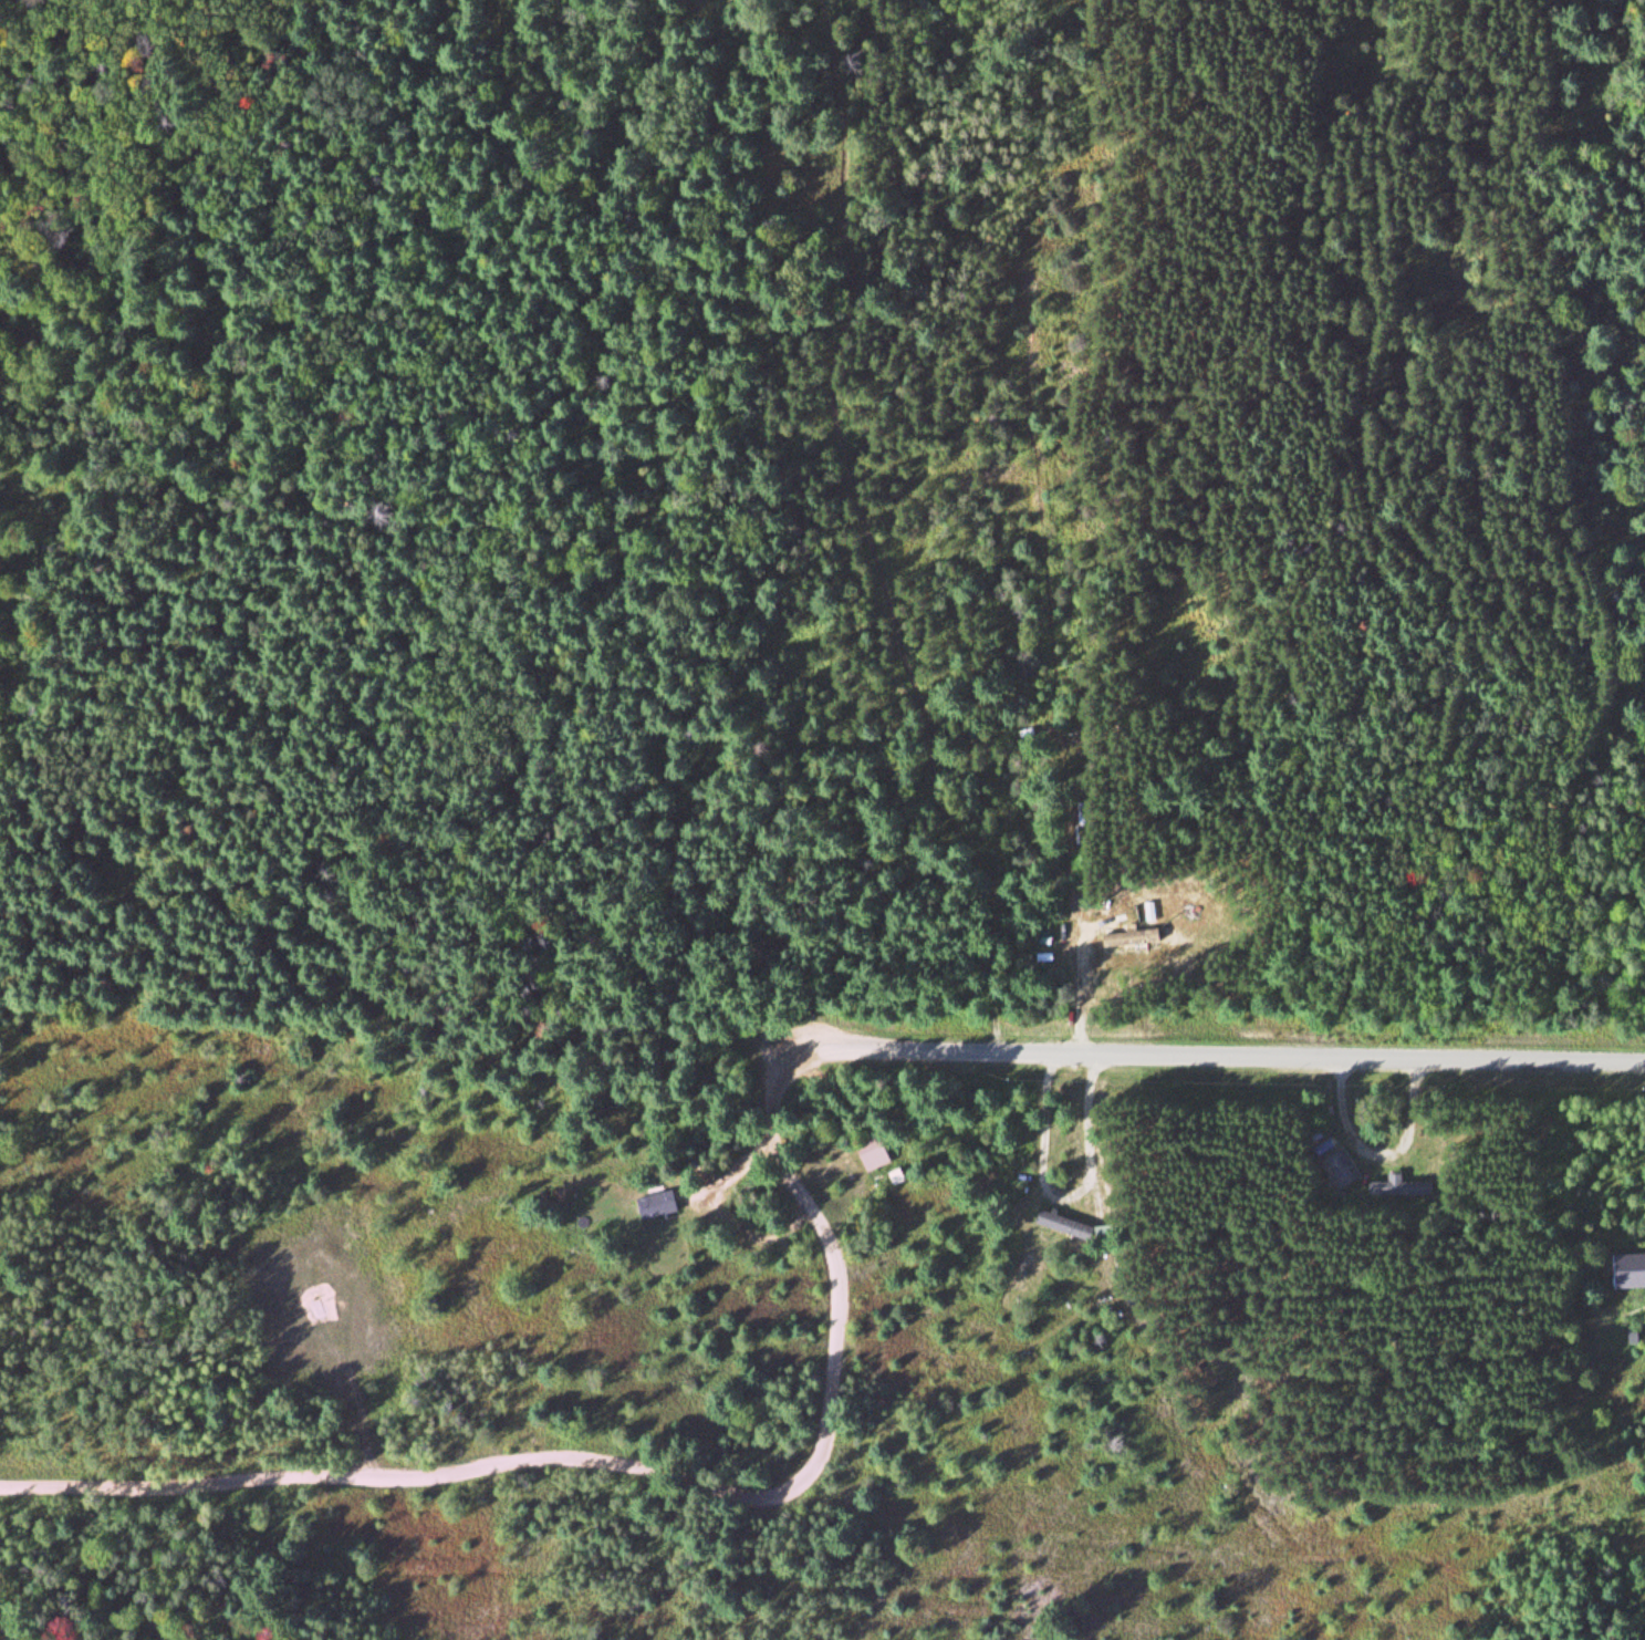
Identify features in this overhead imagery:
road: (1221, 1057)
building: (883, 1152)
building: (1339, 1169)
building: (1397, 1186)
building: (663, 1204)
petroleum well: (320, 1305)
road: (343, 1322)
building: (288, 1349)
road: (634, 1467)

